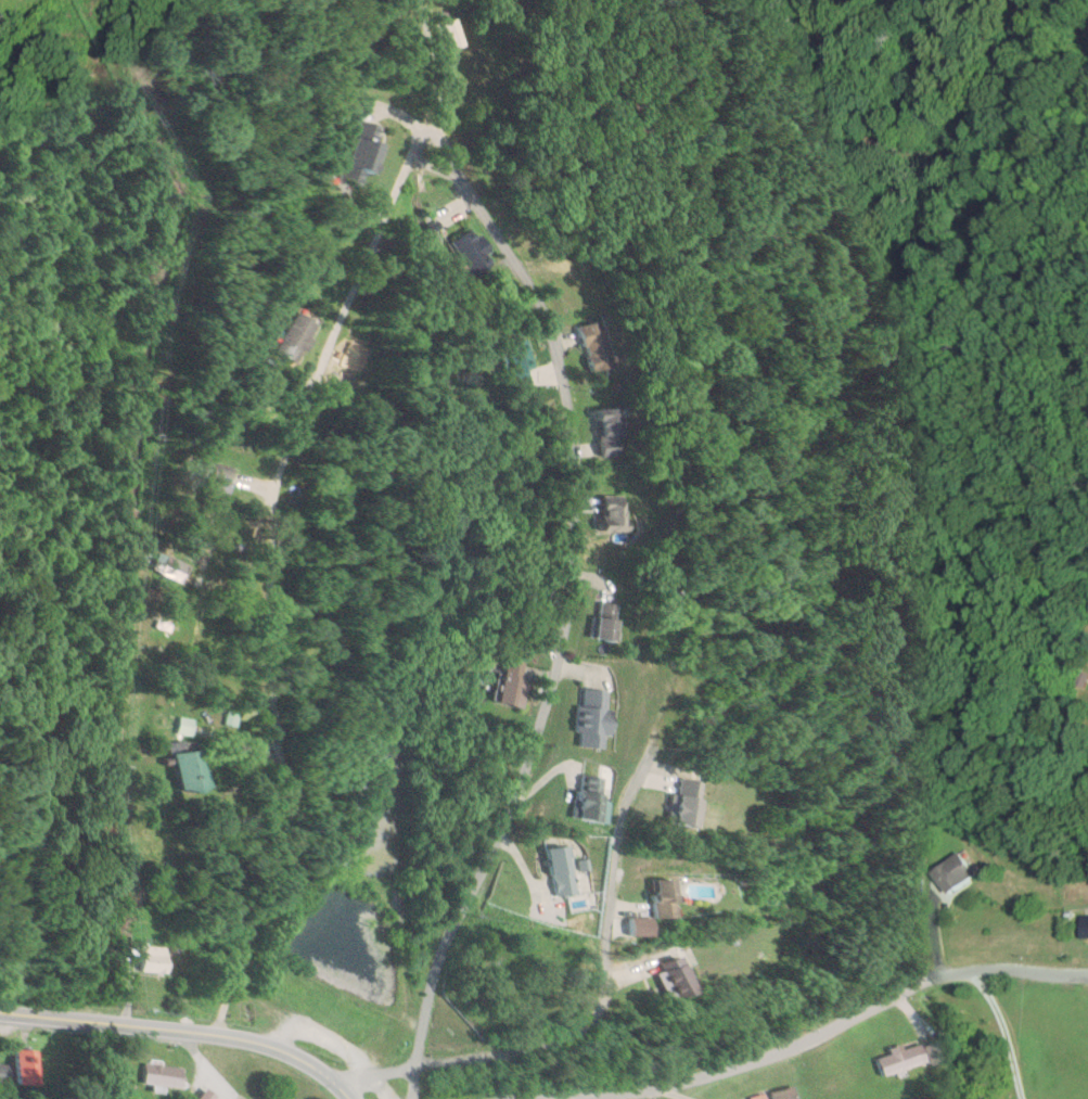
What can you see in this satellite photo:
building: (360, 153)
road: (413, 156)
road: (453, 169)
building: (290, 336)
building: (596, 347)
building: (519, 369)
building: (609, 432)
building: (220, 496)
building: (614, 514)
road: (266, 582)
building: (610, 622)
road: (558, 642)
building: (512, 681)
building: (596, 719)
building: (192, 769)
building: (592, 797)
building: (692, 804)
building: (960, 872)
building: (566, 873)
building: (667, 899)
building: (155, 960)
park: (508, 981)
building: (683, 981)
road: (590, 1015)
road: (182, 1030)
road: (214, 1030)
road: (806, 1037)
building: (900, 1059)
building: (26, 1065)
building: (4, 1073)
building: (165, 1074)
building: (789, 1094)

